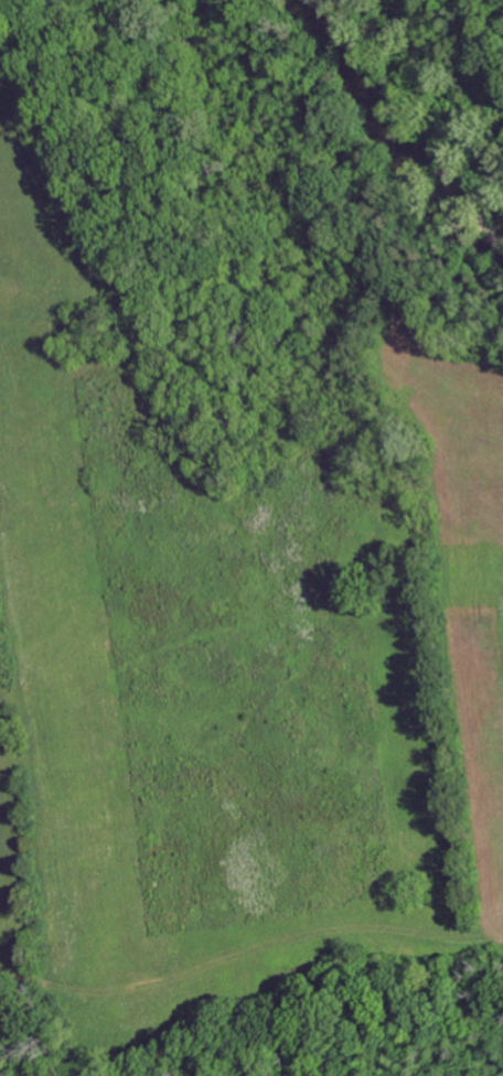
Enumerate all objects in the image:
river: (407, 136)

